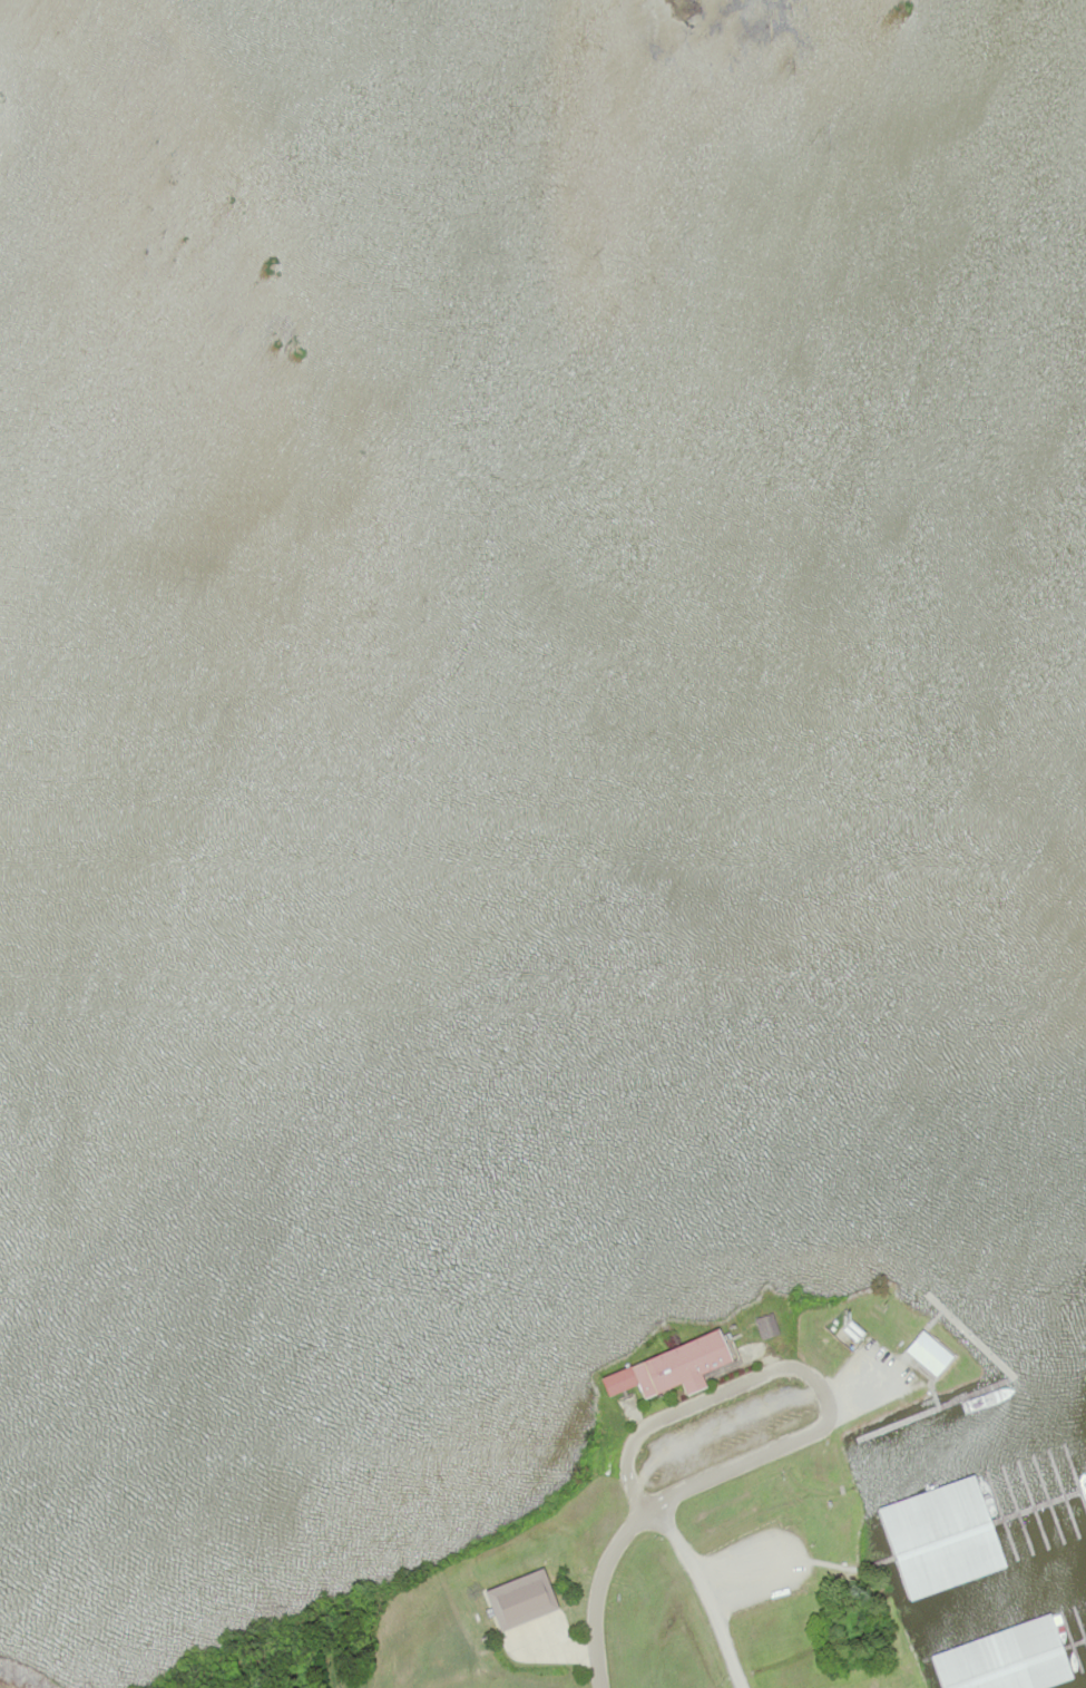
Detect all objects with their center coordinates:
building: (765, 1326)
building: (929, 1354)
road: (796, 1367)
building: (672, 1368)
building: (943, 1538)
road: (594, 1592)
road: (699, 1594)
building: (519, 1601)
building: (1007, 1659)
park: (1, 1687)

